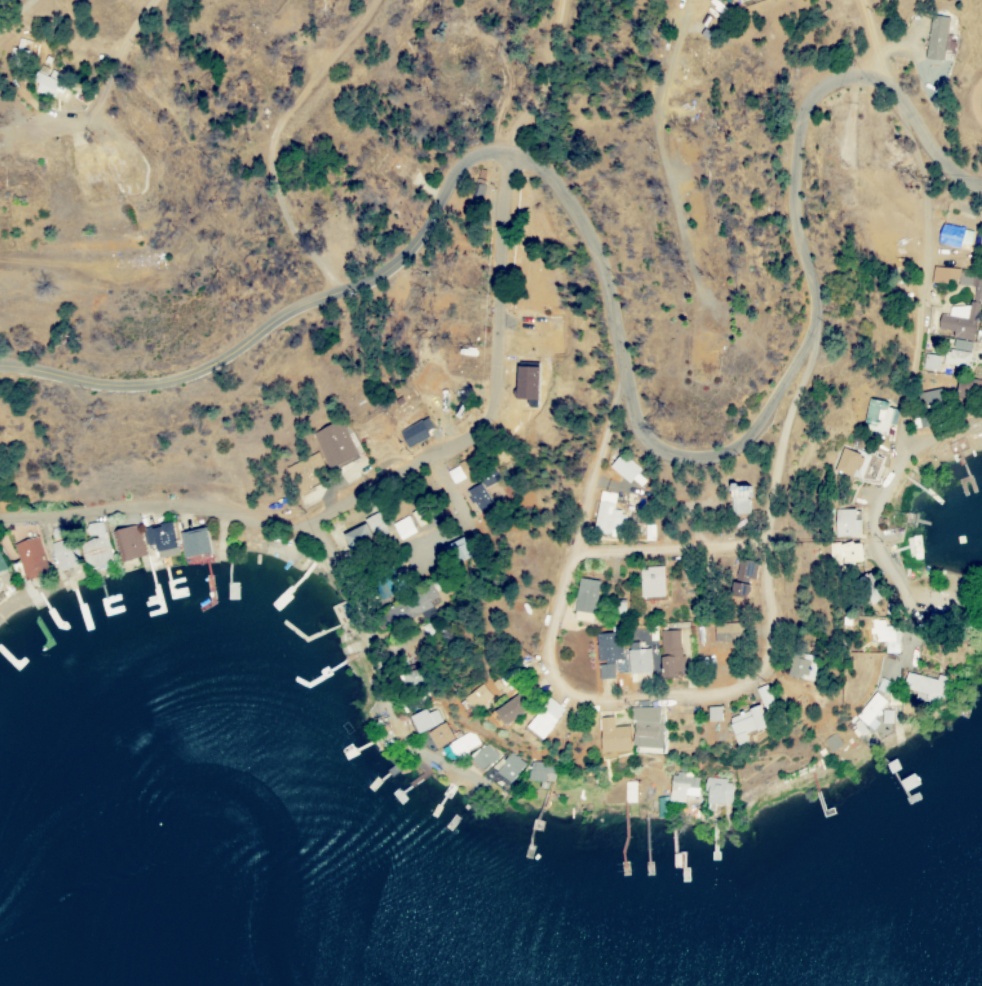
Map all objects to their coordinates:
road: (17, 18)
building: (935, 38)
road: (874, 39)
road: (547, 81)
building: (43, 85)
road: (109, 87)
road: (979, 102)
road: (665, 154)
building: (953, 237)
road: (325, 267)
building: (943, 275)
building: (972, 285)
building: (959, 322)
road: (618, 328)
building: (957, 355)
building: (930, 362)
road: (916, 374)
building: (967, 388)
road: (505, 399)
building: (929, 399)
building: (877, 417)
building: (415, 432)
road: (932, 440)
building: (333, 445)
building: (847, 463)
building: (303, 468)
building: (620, 469)
building: (456, 473)
road: (466, 494)
building: (477, 497)
building: (737, 500)
building: (605, 517)
building: (845, 523)
building: (374, 525)
building: (403, 528)
building: (646, 533)
road: (309, 535)
building: (355, 537)
building: (160, 540)
building: (128, 543)
building: (194, 543)
building: (95, 548)
building: (913, 548)
road: (674, 549)
building: (457, 551)
building: (844, 553)
building: (63, 557)
building: (30, 559)
building: (741, 578)
building: (649, 582)
building: (867, 588)
building: (584, 596)
building: (411, 605)
building: (581, 617)
building: (726, 632)
building: (884, 635)
building: (606, 654)
building: (670, 654)
building: (638, 660)
building: (801, 667)
building: (412, 678)
building: (925, 687)
building: (477, 697)
building: (764, 697)
road: (677, 698)
building: (510, 710)
building: (870, 711)
building: (713, 714)
building: (886, 717)
building: (545, 718)
building: (424, 720)
building: (745, 724)
building: (646, 727)
building: (860, 728)
building: (439, 736)
building: (612, 737)
building: (831, 743)
building: (460, 746)
building: (482, 758)
building: (507, 767)
building: (540, 772)
building: (676, 793)
building: (717, 793)

